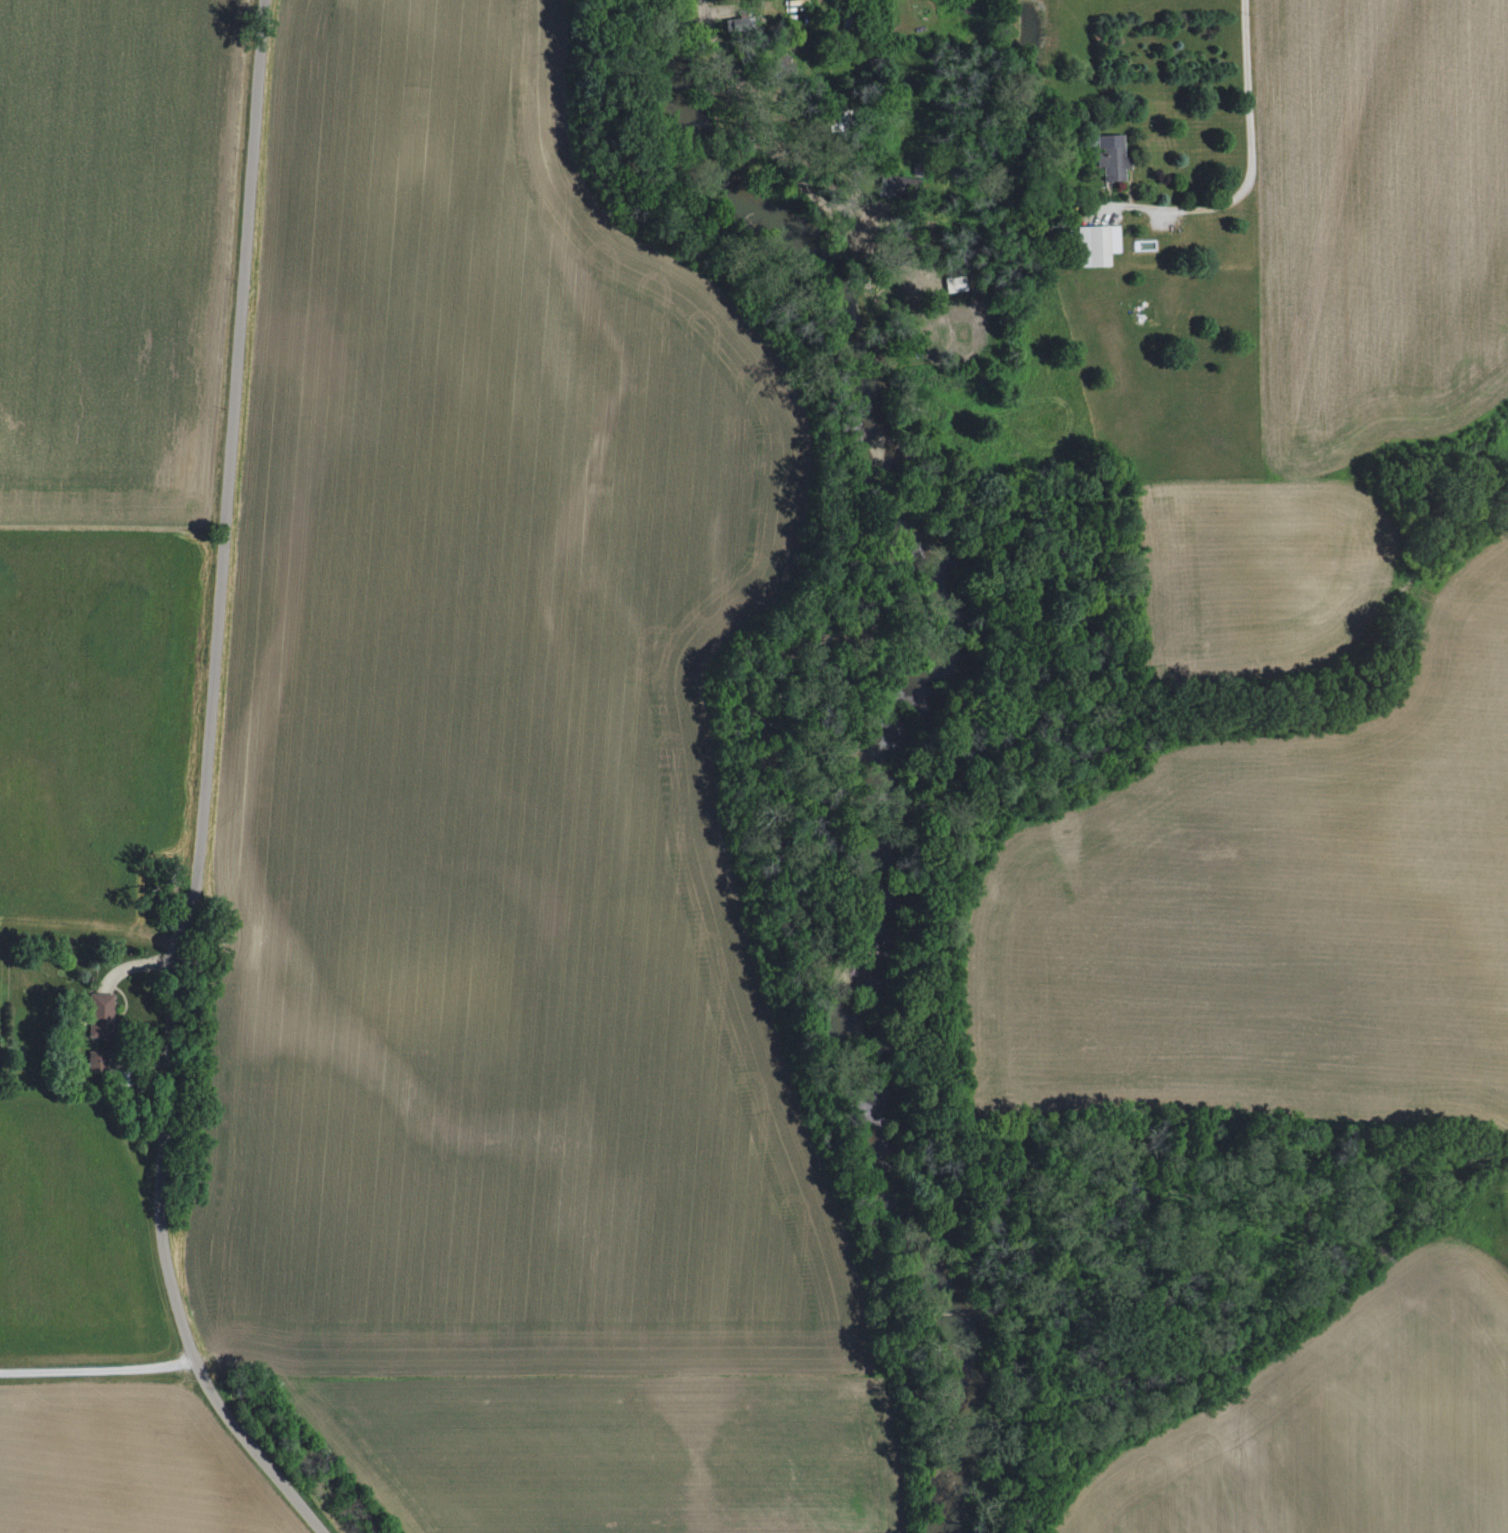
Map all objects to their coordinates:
road: (749, 89)
building: (1116, 156)
road: (1252, 168)
building: (1103, 243)
road: (204, 789)
building: (106, 1014)
building: (100, 1060)
road: (98, 1367)

